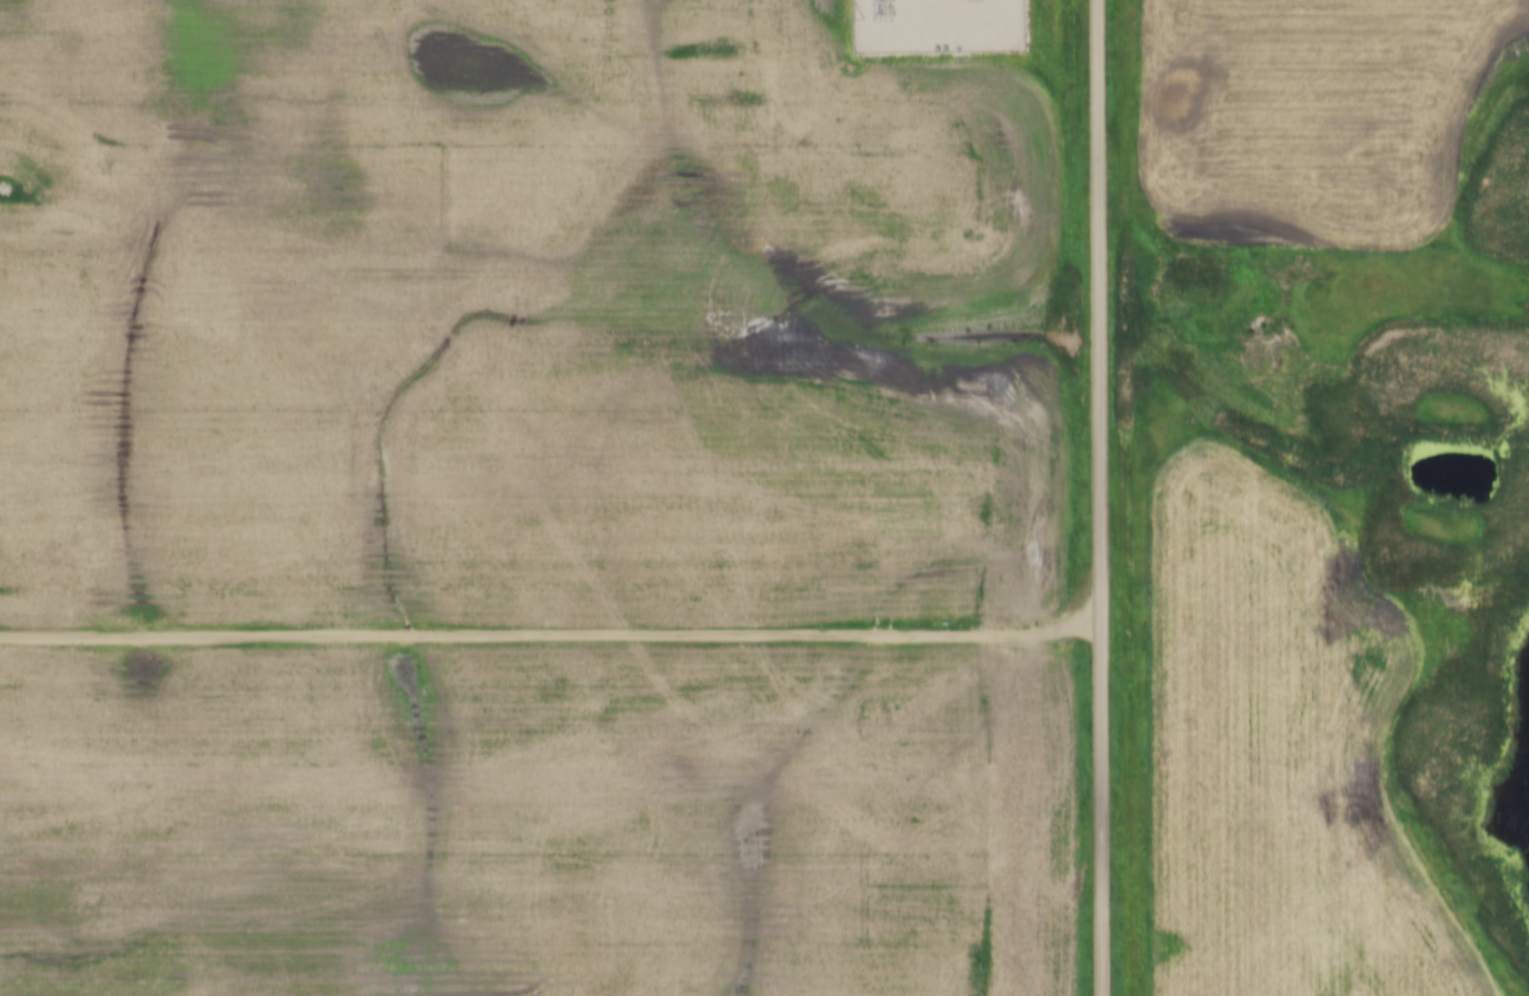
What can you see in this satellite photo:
power substation: (932, 26)
road: (1100, 498)
road: (550, 635)

